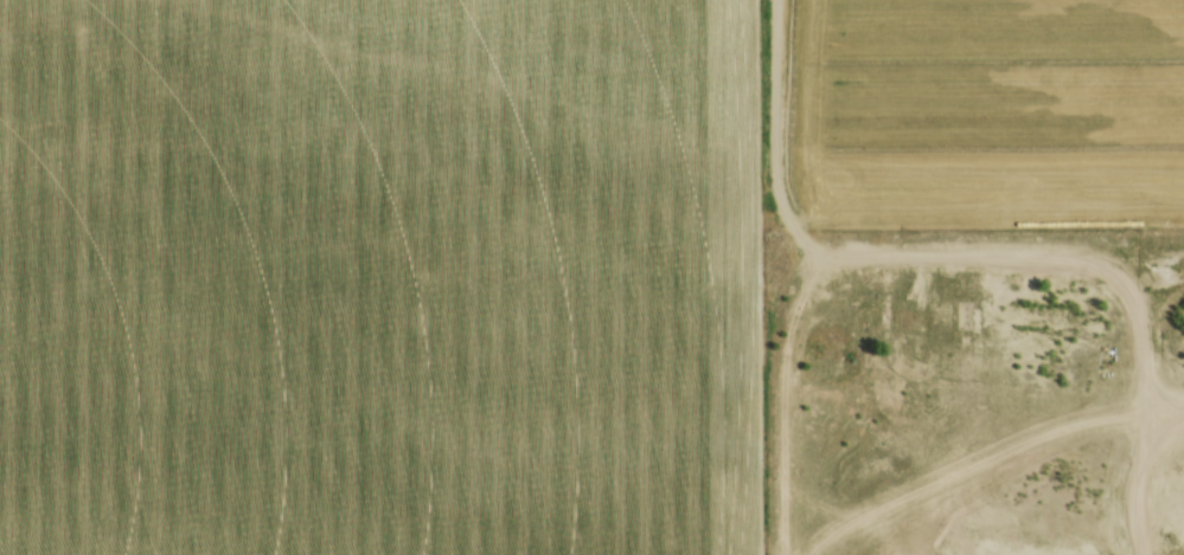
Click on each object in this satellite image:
road: (988, 422)

